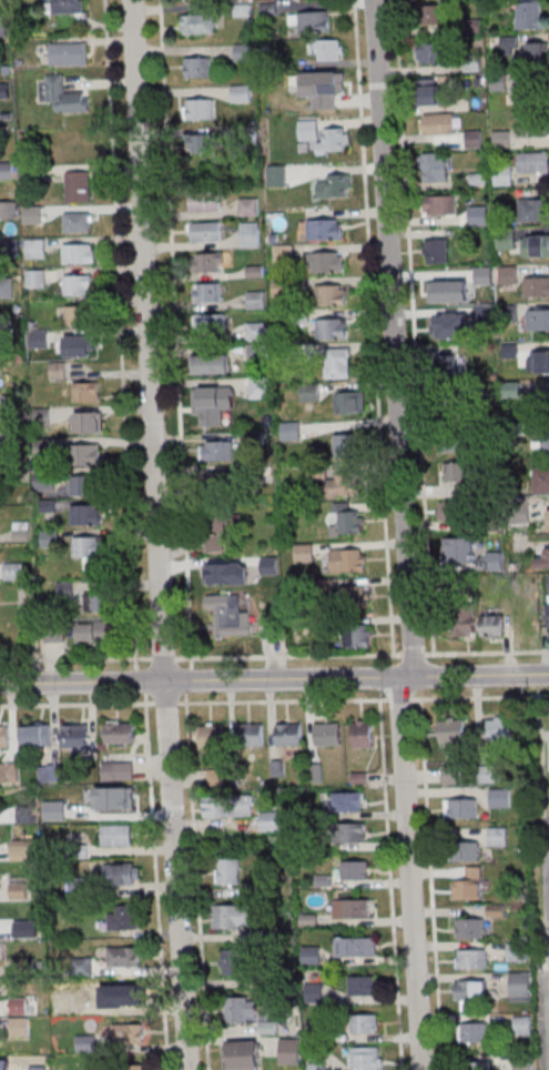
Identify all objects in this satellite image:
building: (2, 0)
building: (64, 8)
building: (431, 14)
building: (529, 14)
building: (3, 22)
building: (309, 22)
building: (197, 23)
building: (326, 50)
building: (243, 52)
building: (433, 52)
building: (68, 53)
building: (531, 57)
building: (471, 63)
building: (197, 67)
building: (329, 81)
building: (241, 93)
building: (526, 93)
building: (429, 94)
building: (64, 95)
building: (199, 109)
building: (437, 123)
building: (530, 127)
building: (308, 130)
building: (501, 138)
building: (474, 139)
building: (336, 140)
building: (203, 143)
building: (532, 161)
building: (435, 166)
building: (7, 171)
building: (31, 173)
building: (276, 176)
building: (335, 185)
building: (78, 186)
building: (202, 201)
building: (439, 204)
building: (248, 208)
building: (7, 210)
building: (533, 210)
building: (32, 215)
building: (77, 223)
building: (205, 233)
building: (250, 235)
building: (506, 239)
building: (533, 245)
building: (9, 248)
building: (35, 249)
building: (437, 249)
building: (77, 254)
building: (325, 262)
building: (209, 263)
building: (507, 274)
building: (482, 275)
building: (35, 279)
building: (75, 285)
building: (6, 286)
building: (536, 286)
building: (447, 290)
building: (207, 293)
building: (331, 294)
building: (256, 300)
building: (484, 311)
building: (79, 316)
building: (538, 319)
building: (210, 323)
building: (451, 325)
road: (373, 326)
road: (413, 326)
building: (331, 329)
road: (394, 337)
building: (39, 340)
building: (77, 347)
road: (121, 352)
building: (255, 353)
building: (338, 361)
building: (539, 362)
building: (211, 365)
building: (451, 367)
building: (260, 387)
building: (87, 393)
building: (212, 396)
building: (347, 402)
building: (88, 424)
building: (542, 436)
building: (453, 440)
building: (346, 444)
building: (42, 448)
building: (216, 450)
building: (84, 455)
building: (454, 474)
building: (44, 478)
building: (541, 480)
building: (227, 482)
building: (344, 484)
building: (85, 486)
building: (453, 512)
building: (85, 516)
building: (548, 519)
building: (348, 522)
building: (221, 529)
road: (156, 535)
road: (184, 535)
building: (20, 536)
building: (49, 538)
building: (88, 548)
building: (459, 549)
building: (304, 553)
building: (348, 559)
building: (542, 561)
building: (12, 572)
building: (27, 594)
building: (350, 597)
building: (94, 602)
building: (228, 615)
building: (464, 625)
building: (492, 626)
building: (93, 632)
building: (358, 635)
road: (487, 652)
road: (414, 653)
road: (288, 655)
road: (163, 657)
road: (74, 658)
road: (274, 679)
road: (480, 696)
road: (399, 698)
road: (282, 700)
road: (165, 703)
road: (77, 704)
building: (500, 729)
building: (120, 733)
road: (546, 733)
building: (288, 734)
building: (327, 734)
building: (362, 734)
building: (251, 735)
building: (451, 735)
building: (4, 736)
building: (35, 736)
building: (75, 736)
building: (212, 737)
building: (9, 771)
building: (118, 771)
building: (489, 774)
building: (454, 775)
building: (499, 798)
building: (88, 800)
building: (348, 801)
building: (216, 806)
building: (241, 806)
building: (460, 807)
building: (271, 820)
building: (353, 831)
building: (116, 835)
building: (497, 836)
building: (23, 849)
building: (468, 850)
building: (354, 869)
building: (228, 871)
building: (123, 874)
road: (409, 874)
building: (470, 882)
building: (81, 884)
road: (431, 884)
road: (390, 885)
building: (18, 889)
building: (352, 908)
building: (235, 916)
building: (124, 917)
building: (470, 928)
building: (356, 947)
building: (517, 951)
building: (122, 956)
building: (470, 959)
building: (235, 961)
building: (82, 966)
building: (362, 985)
building: (519, 987)
building: (470, 989)
building: (126, 995)
parking lot: (547, 1008)
building: (241, 1009)
building: (364, 1023)
building: (522, 1024)
building: (20, 1027)
building: (126, 1033)
building: (475, 1033)
building: (85, 1042)
building: (289, 1050)
building: (242, 1054)
building: (366, 1058)
building: (478, 1066)
building: (134, 1067)
building: (525, 1067)

